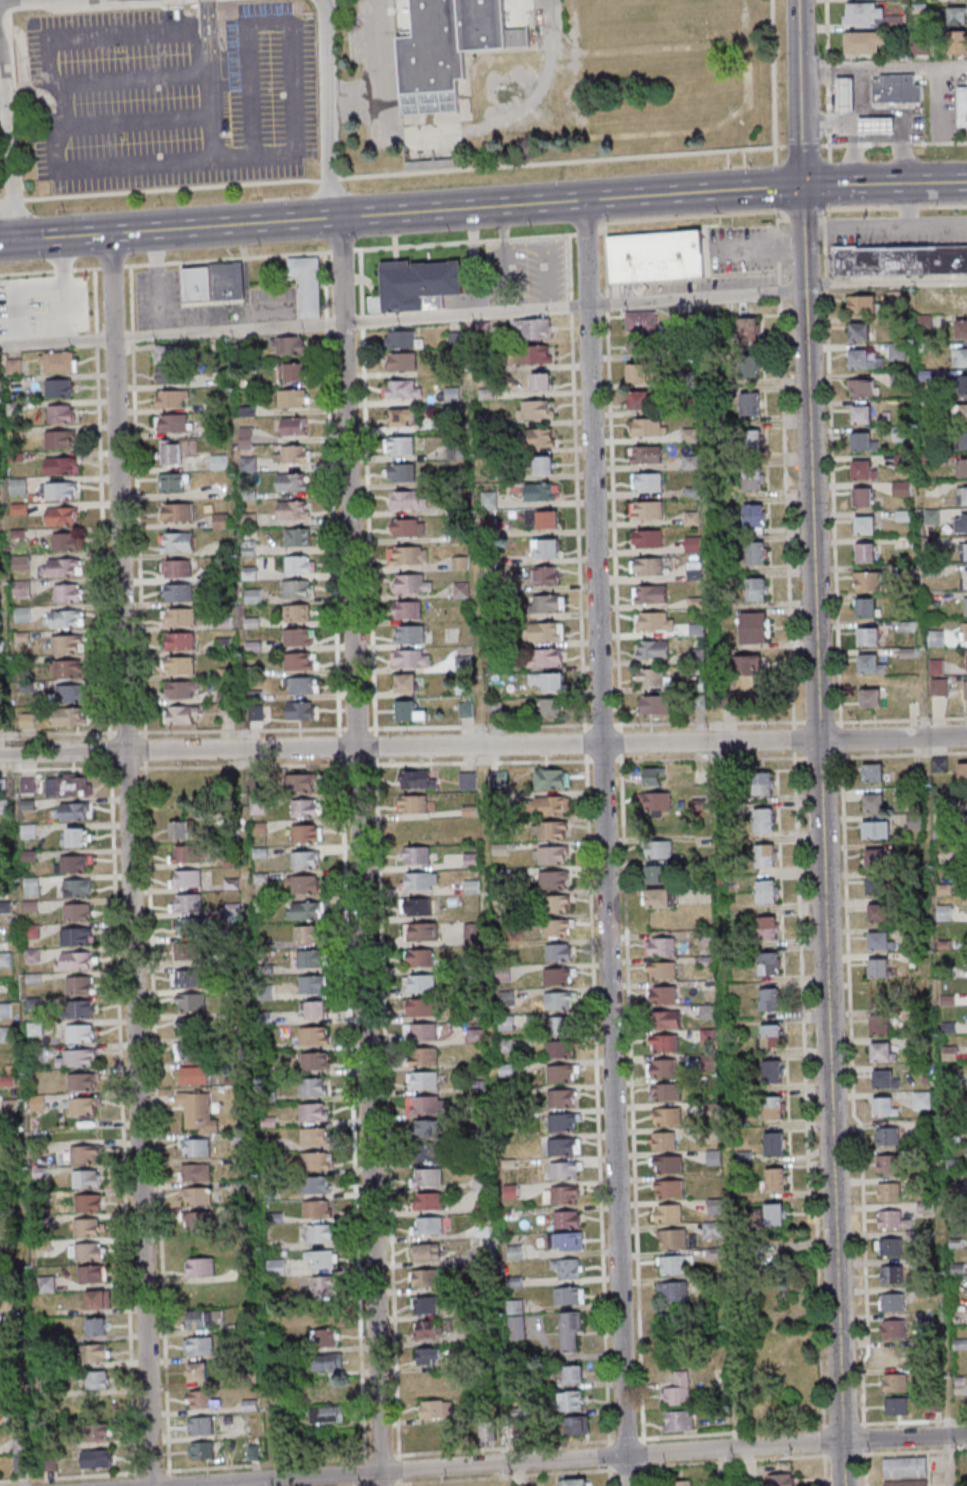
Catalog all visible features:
building: (892, 0)
building: (950, 0)
building: (917, 9)
road: (547, 15)
building: (860, 15)
building: (954, 17)
building: (891, 24)
road: (266, 25)
building: (702, 32)
building: (861, 44)
building: (956, 44)
building: (450, 49)
building: (918, 49)
road: (883, 66)
road: (132, 78)
road: (208, 80)
road: (828, 80)
road: (773, 81)
building: (886, 90)
road: (800, 93)
building: (842, 94)
parking lot: (170, 97)
building: (962, 105)
road: (325, 109)
road: (136, 120)
building: (879, 125)
road: (51, 146)
road: (6, 147)
road: (483, 167)
traffic signals: (802, 187)
road: (483, 207)
building: (660, 256)
building: (903, 260)
road: (886, 280)
building: (216, 282)
building: (310, 283)
building: (420, 285)
building: (958, 301)
building: (862, 303)
road: (402, 318)
building: (640, 321)
building: (532, 328)
building: (749, 328)
building: (961, 328)
building: (859, 331)
building: (403, 338)
building: (291, 346)
building: (897, 351)
building: (537, 353)
building: (170, 355)
building: (960, 357)
building: (860, 358)
building: (59, 361)
building: (401, 361)
building: (749, 366)
building: (14, 367)
building: (293, 372)
building: (641, 372)
building: (171, 376)
building: (541, 381)
building: (15, 383)
building: (963, 384)
building: (60, 387)
building: (862, 387)
building: (402, 388)
building: (172, 399)
building: (292, 399)
building: (639, 399)
building: (750, 403)
building: (541, 408)
building: (960, 411)
building: (62, 413)
building: (862, 413)
building: (402, 416)
building: (172, 424)
building: (294, 426)
building: (647, 426)
building: (539, 437)
building: (961, 439)
building: (60, 440)
building: (861, 440)
building: (751, 441)
building: (400, 444)
building: (171, 454)
building: (293, 454)
building: (645, 454)
building: (691, 462)
building: (544, 463)
building: (62, 466)
building: (962, 466)
building: (862, 469)
building: (403, 472)
building: (754, 478)
building: (647, 481)
building: (175, 482)
building: (293, 482)
building: (18, 486)
building: (64, 490)
building: (542, 491)
building: (863, 495)
building: (962, 495)
building: (408, 500)
building: (294, 509)
building: (647, 510)
building: (178, 512)
building: (62, 516)
building: (755, 518)
building: (547, 519)
building: (961, 522)
building: (865, 524)
building: (409, 527)
building: (299, 537)
building: (647, 537)
building: (67, 541)
building: (178, 541)
building: (693, 544)
building: (546, 547)
building: (965, 550)
building: (756, 552)
building: (866, 552)
building: (408, 554)
building: (301, 563)
building: (647, 565)
building: (63, 567)
building: (177, 568)
building: (546, 574)
building: (965, 578)
building: (867, 580)
building: (412, 582)
building: (298, 588)
building: (758, 588)
building: (22, 589)
building: (179, 592)
building: (68, 593)
building: (650, 593)
building: (547, 603)
building: (966, 606)
building: (408, 609)
building: (298, 613)
building: (22, 615)
building: (179, 616)
building: (67, 619)
building: (655, 620)
building: (755, 627)
building: (547, 631)
building: (964, 631)
building: (410, 634)
building: (869, 635)
building: (299, 637)
building: (937, 637)
building: (181, 641)
building: (68, 645)
building: (653, 648)
building: (546, 657)
building: (412, 658)
building: (300, 660)
building: (869, 662)
building: (749, 664)
building: (180, 665)
building: (67, 669)
building: (651, 676)
building: (548, 680)
building: (405, 682)
building: (698, 684)
building: (301, 685)
building: (940, 686)
building: (182, 689)
building: (965, 691)
building: (71, 694)
building: (871, 697)
building: (654, 704)
building: (551, 706)
building: (496, 708)
building: (467, 709)
building: (301, 710)
building: (410, 711)
building: (257, 712)
building: (183, 714)
building: (228, 714)
building: (70, 717)
building: (29, 721)
road: (180, 731)
road: (74, 733)
road: (483, 745)
road: (483, 761)
building: (940, 763)
building: (963, 771)
building: (873, 772)
building: (654, 776)
building: (498, 777)
building: (552, 778)
building: (419, 779)
building: (468, 779)
building: (308, 781)
building: (186, 782)
building: (764, 783)
building: (69, 786)
building: (657, 800)
building: (874, 801)
building: (414, 803)
building: (552, 804)
building: (307, 806)
building: (76, 810)
road: (821, 813)
building: (764, 818)
building: (183, 829)
building: (415, 829)
building: (551, 829)
building: (876, 829)
building: (308, 833)
building: (77, 837)
road: (609, 842)
building: (659, 849)
road: (364, 851)
building: (185, 854)
building: (419, 854)
building: (552, 854)
building: (766, 855)
building: (875, 857)
building: (306, 859)
road: (134, 860)
building: (73, 863)
road: (724, 872)
building: (657, 874)
building: (188, 878)
building: (554, 879)
building: (421, 880)
building: (304, 883)
building: (879, 885)
building: (32, 886)
building: (78, 887)
building: (767, 890)
building: (661, 897)
building: (189, 903)
building: (560, 903)
building: (416, 906)
building: (306, 910)
building: (78, 911)
building: (879, 912)
building: (190, 927)
building: (557, 927)
building: (769, 927)
building: (421, 931)
building: (308, 933)
building: (473, 933)
building: (78, 935)
building: (881, 940)
building: (661, 946)
building: (559, 951)
building: (186, 952)
building: (419, 957)
building: (312, 958)
building: (76, 960)
building: (769, 963)
building: (880, 967)
building: (662, 969)
building: (559, 975)
building: (186, 979)
building: (313, 983)
building: (419, 983)
building: (81, 985)
building: (664, 994)
building: (881, 996)
building: (771, 999)
building: (565, 1000)
building: (192, 1002)
building: (420, 1006)
building: (82, 1008)
building: (315, 1009)
building: (7, 1011)
building: (667, 1019)
building: (881, 1023)
building: (561, 1024)
building: (191, 1026)
building: (421, 1031)
building: (8, 1033)
building: (81, 1034)
building: (772, 1035)
building: (315, 1036)
building: (664, 1042)
building: (560, 1049)
building: (191, 1050)
building: (884, 1051)
building: (425, 1055)
building: (78, 1059)
building: (316, 1061)
building: (662, 1067)
building: (773, 1071)
building: (562, 1073)
building: (193, 1075)
building: (886, 1078)
building: (423, 1079)
building: (84, 1082)
building: (314, 1086)
building: (665, 1091)
building: (562, 1096)
building: (922, 1096)
building: (427, 1103)
building: (886, 1105)
building: (83, 1107)
building: (774, 1107)
building: (200, 1111)
building: (315, 1111)
building: (667, 1116)
road: (126, 1120)
building: (567, 1121)
building: (427, 1128)
building: (888, 1135)
building: (316, 1137)
building: (664, 1140)
building: (775, 1143)
building: (564, 1146)
building: (196, 1147)
building: (429, 1152)
building: (85, 1155)
building: (318, 1161)
building: (888, 1163)
building: (667, 1164)
building: (565, 1170)
building: (196, 1172)
building: (426, 1177)
building: (776, 1178)
building: (87, 1179)
building: (317, 1186)
building: (669, 1188)
building: (890, 1191)
building: (562, 1194)
building: (198, 1196)
building: (427, 1200)
building: (90, 1202)
building: (318, 1209)
building: (668, 1212)
building: (775, 1213)
building: (567, 1218)
building: (893, 1219)
building: (197, 1220)
building: (429, 1225)
building: (88, 1226)
building: (714, 1228)
building: (320, 1233)
building: (672, 1238)
building: (566, 1241)
building: (889, 1246)
building: (86, 1251)
building: (426, 1251)
building: (322, 1258)
building: (673, 1264)
building: (201, 1267)
building: (568, 1268)
building: (92, 1273)
building: (892, 1273)
building: (425, 1277)
building: (324, 1285)
building: (673, 1291)
building: (569, 1295)
building: (99, 1298)
building: (892, 1301)
building: (428, 1304)
building: (204, 1318)
building: (98, 1326)
building: (429, 1328)
building: (894, 1328)
building: (570, 1331)
building: (325, 1337)
building: (199, 1347)
building: (97, 1353)
building: (895, 1354)
building: (430, 1355)
building: (328, 1361)
building: (198, 1373)
building: (574, 1373)
building: (96, 1381)
building: (896, 1382)
building: (329, 1388)
building: (678, 1389)
building: (204, 1399)
building: (572, 1400)
building: (897, 1405)
building: (436, 1408)
building: (328, 1414)
building: (678, 1420)
building: (578, 1424)
building: (202, 1425)
building: (97, 1431)
road: (756, 1432)
road: (868, 1440)
building: (204, 1450)
road: (918, 1452)
road: (648, 1454)
building: (21, 1455)
road: (576, 1458)
building: (96, 1460)
road: (842, 1463)
building: (905, 1466)
road: (86, 1476)
road: (519, 1477)
road: (138, 1479)
building: (782, 1479)
building: (573, 1482)
building: (679, 1483)
building: (906, 1483)

